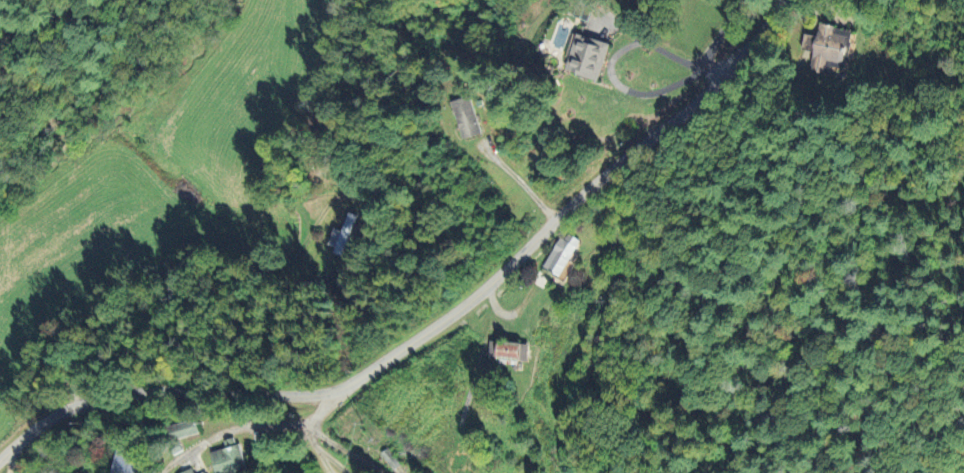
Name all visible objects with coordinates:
building: (833, 47)
building: (590, 55)
building: (467, 117)
road: (521, 194)
building: (342, 235)
building: (563, 253)
road: (169, 326)
road: (439, 329)
building: (509, 350)
road: (245, 427)
building: (185, 428)
road: (321, 450)
building: (228, 457)
building: (393, 458)
building: (126, 462)
building: (190, 471)
building: (205, 472)

